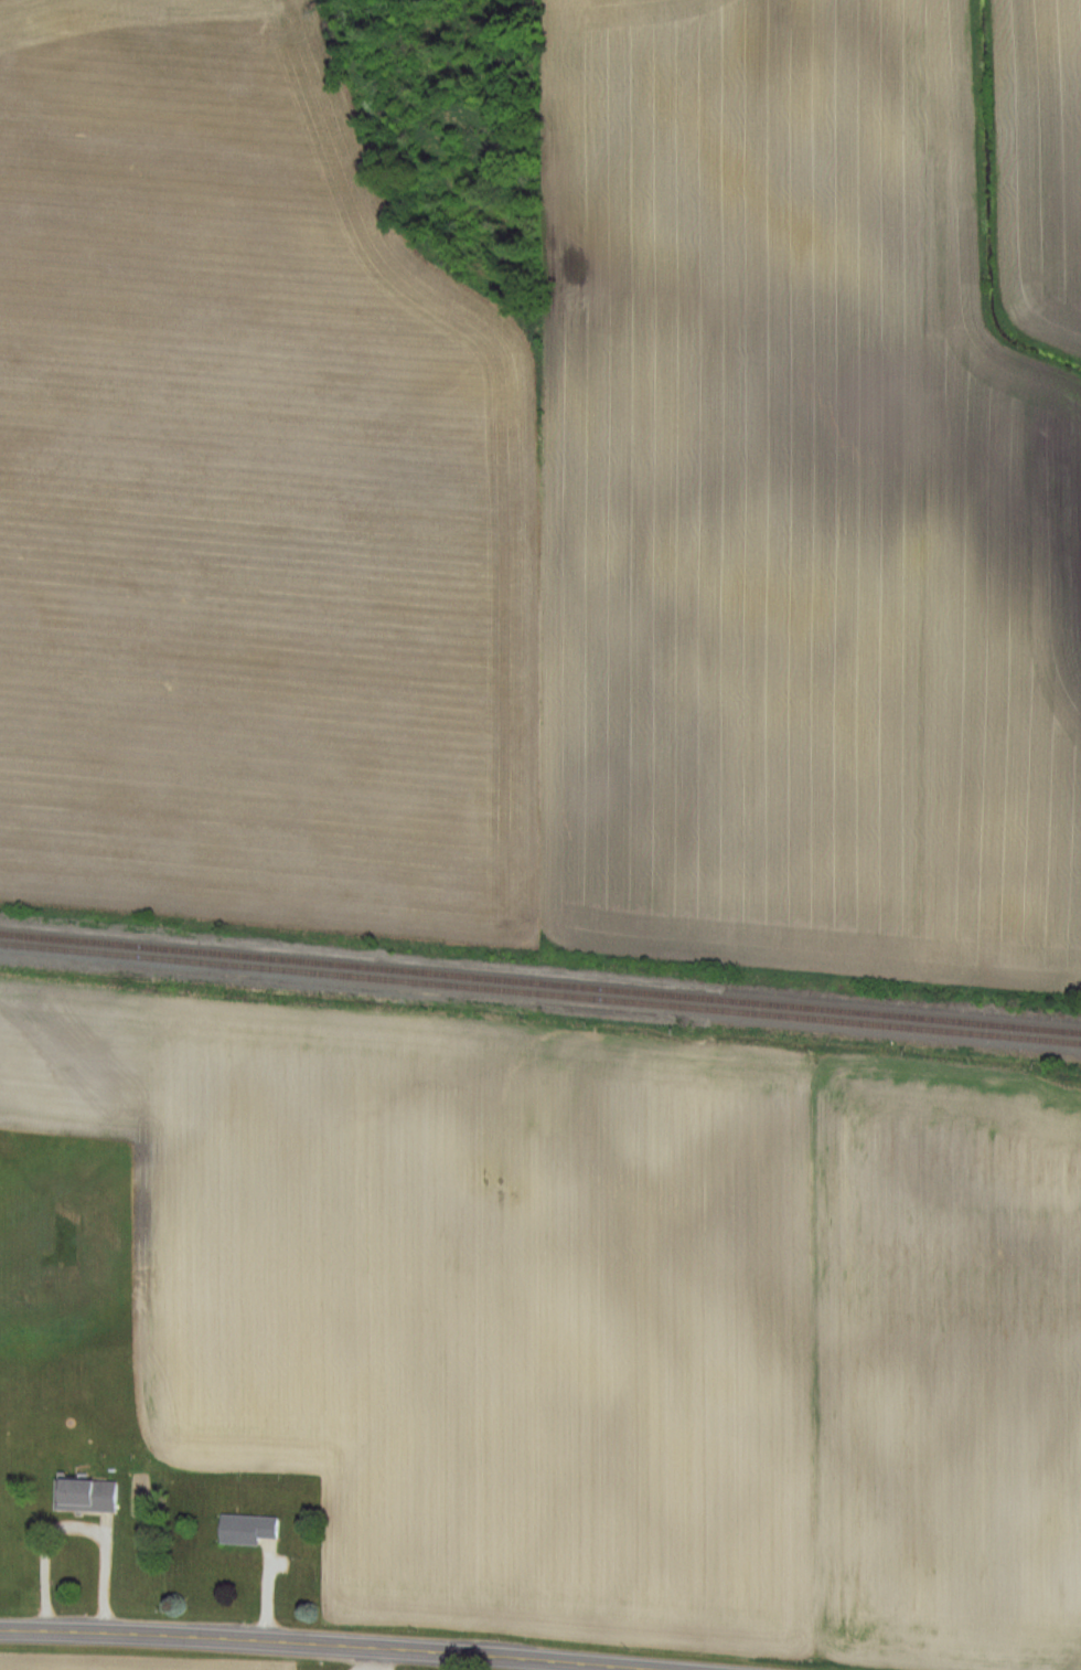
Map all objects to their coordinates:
railway: (540, 979)
railway: (540, 990)
building: (81, 1496)
road: (69, 1528)
building: (244, 1529)
road: (308, 1644)
road: (374, 1659)

